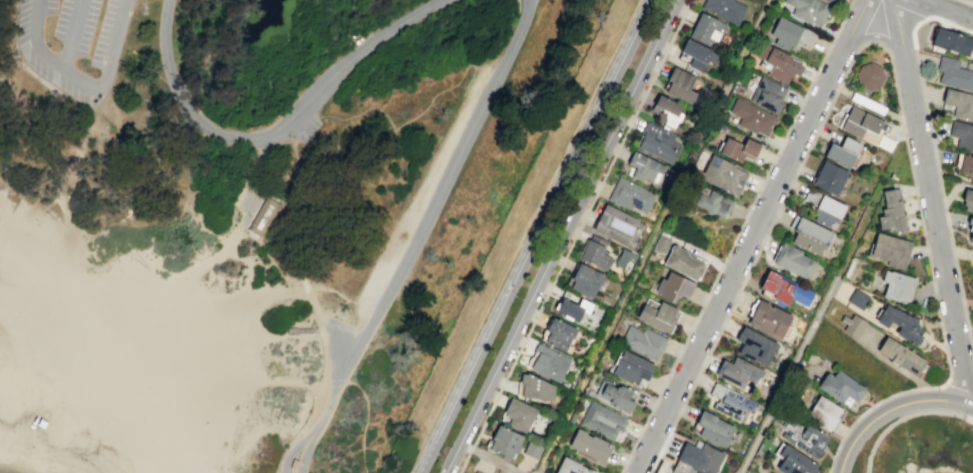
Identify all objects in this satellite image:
building: (830, 1)
road: (968, 1)
road: (530, 6)
building: (724, 9)
road: (949, 9)
building: (808, 10)
road: (912, 11)
building: (713, 31)
road: (69, 36)
building: (796, 36)
road: (876, 37)
building: (954, 43)
parking lot: (73, 46)
building: (702, 55)
building: (787, 66)
road: (164, 67)
road: (347, 72)
building: (957, 74)
building: (875, 76)
road: (81, 84)
building: (686, 84)
building: (772, 95)
building: (962, 103)
building: (676, 113)
building: (756, 117)
building: (972, 121)
building: (865, 123)
parking lot: (306, 129)
road: (224, 132)
building: (965, 138)
road: (86, 139)
building: (663, 144)
building: (745, 150)
building: (850, 152)
building: (970, 166)
building: (650, 168)
building: (729, 175)
building: (837, 178)
road: (939, 178)
parking lot: (422, 184)
road: (252, 193)
building: (634, 197)
road: (436, 199)
road: (932, 202)
building: (720, 204)
building: (971, 204)
building: (827, 210)
building: (898, 212)
park: (266, 219)
building: (264, 220)
road: (579, 224)
building: (621, 226)
building: (971, 230)
road: (515, 232)
building: (808, 234)
road: (535, 236)
road: (557, 236)
road: (654, 236)
road: (737, 236)
road: (753, 236)
building: (660, 244)
road: (762, 246)
building: (896, 251)
building: (600, 254)
building: (628, 260)
building: (792, 260)
building: (690, 264)
building: (146, 268)
road: (267, 268)
building: (592, 280)
building: (905, 287)
building: (679, 288)
building: (789, 291)
road: (305, 292)
road: (936, 295)
building: (862, 300)
building: (579, 309)
building: (663, 316)
building: (773, 318)
road: (319, 319)
building: (906, 324)
building: (858, 326)
road: (306, 329)
building: (566, 335)
building: (646, 343)
building: (761, 346)
building: (908, 357)
building: (552, 363)
building: (638, 369)
building: (743, 373)
road: (788, 376)
road: (336, 383)
road: (300, 385)
building: (848, 387)
building: (539, 389)
road: (958, 390)
building: (623, 398)
road: (329, 400)
building: (732, 402)
road: (891, 408)
building: (830, 414)
building: (524, 416)
road: (904, 416)
road: (972, 418)
road: (366, 421)
building: (606, 422)
building: (719, 430)
building: (807, 438)
road: (297, 442)
building: (511, 443)
road: (309, 444)
building: (595, 448)
building: (536, 450)
road: (487, 458)
building: (705, 458)
road: (463, 461)
building: (796, 461)
building: (293, 463)
toll booth: (301, 464)
building: (578, 467)
road: (408, 472)
building: (476, 472)
road: (537, 472)

